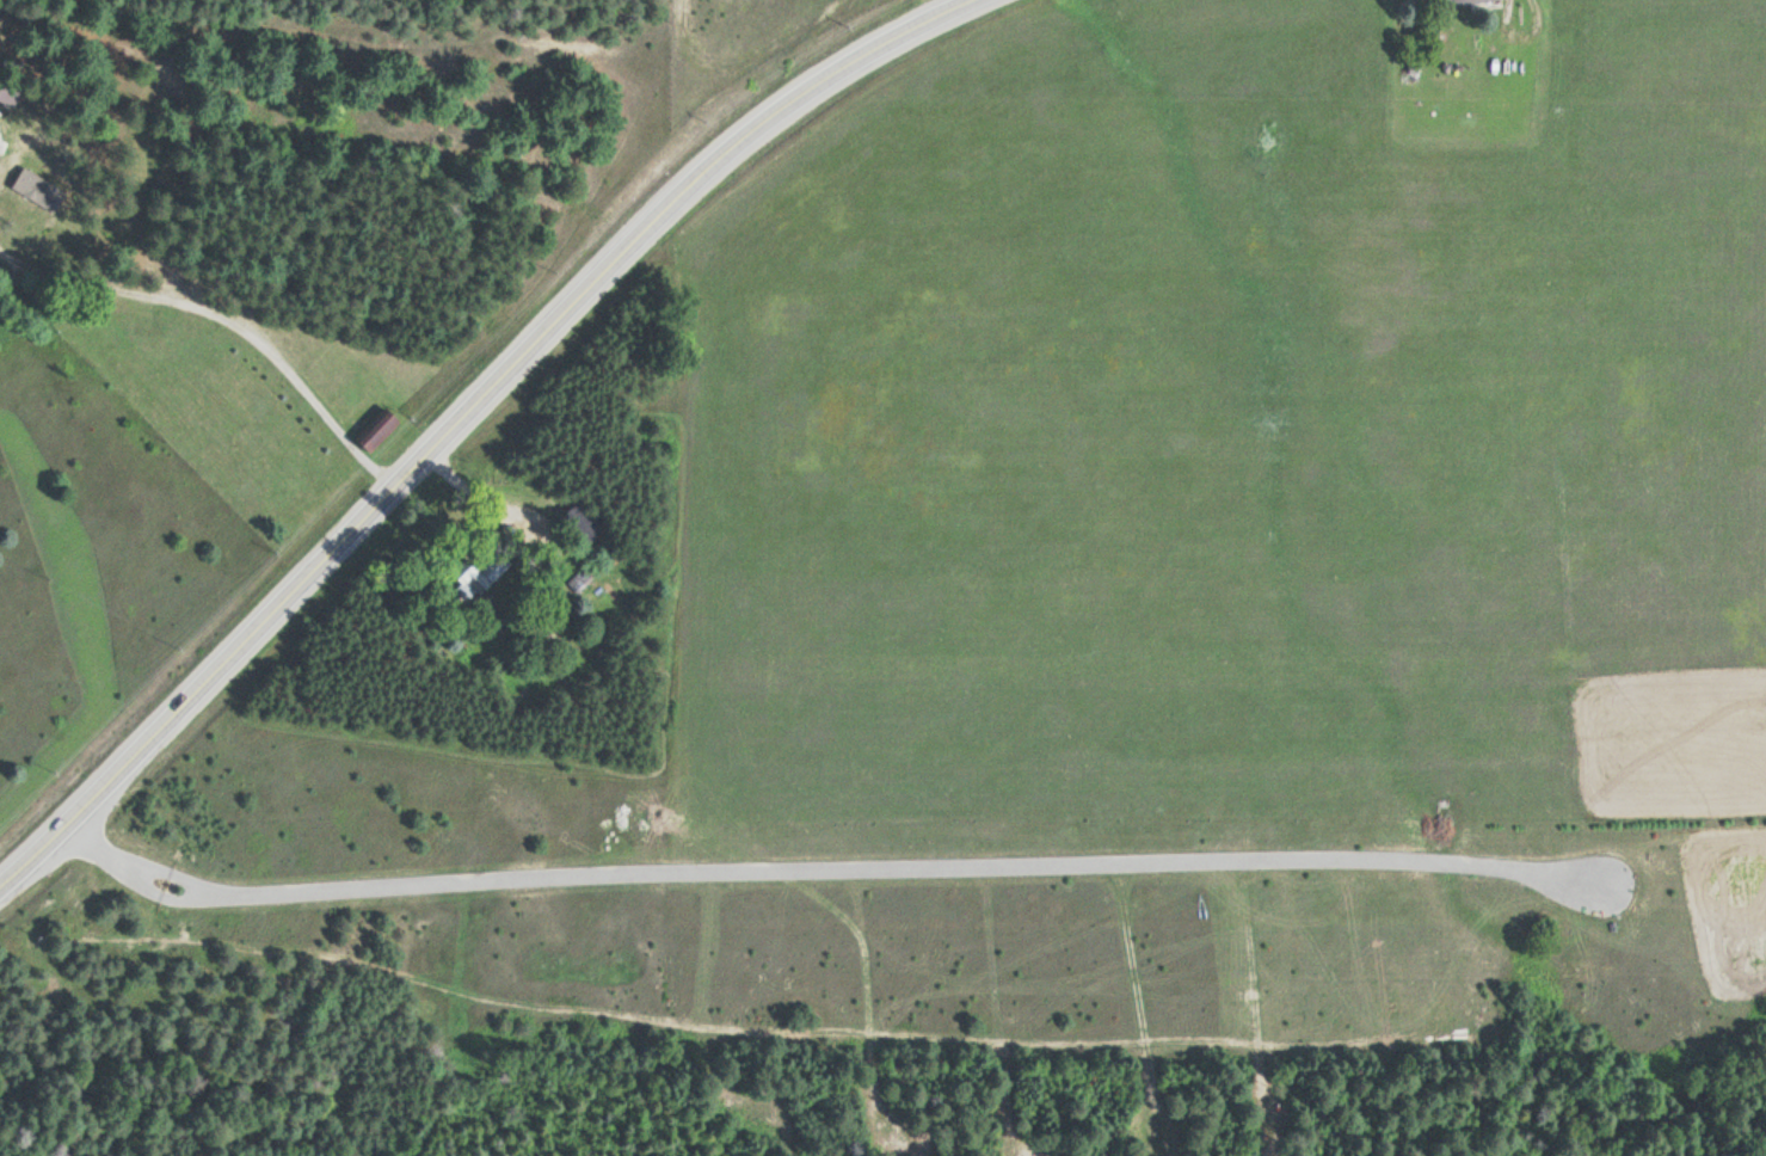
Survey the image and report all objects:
building: (1459, 2)
building: (7, 93)
building: (32, 187)
road: (227, 314)
road: (462, 414)
building: (375, 430)
building: (580, 523)
building: (478, 574)
building: (580, 580)
road: (90, 838)
road: (915, 867)
road: (172, 872)
road: (165, 896)

